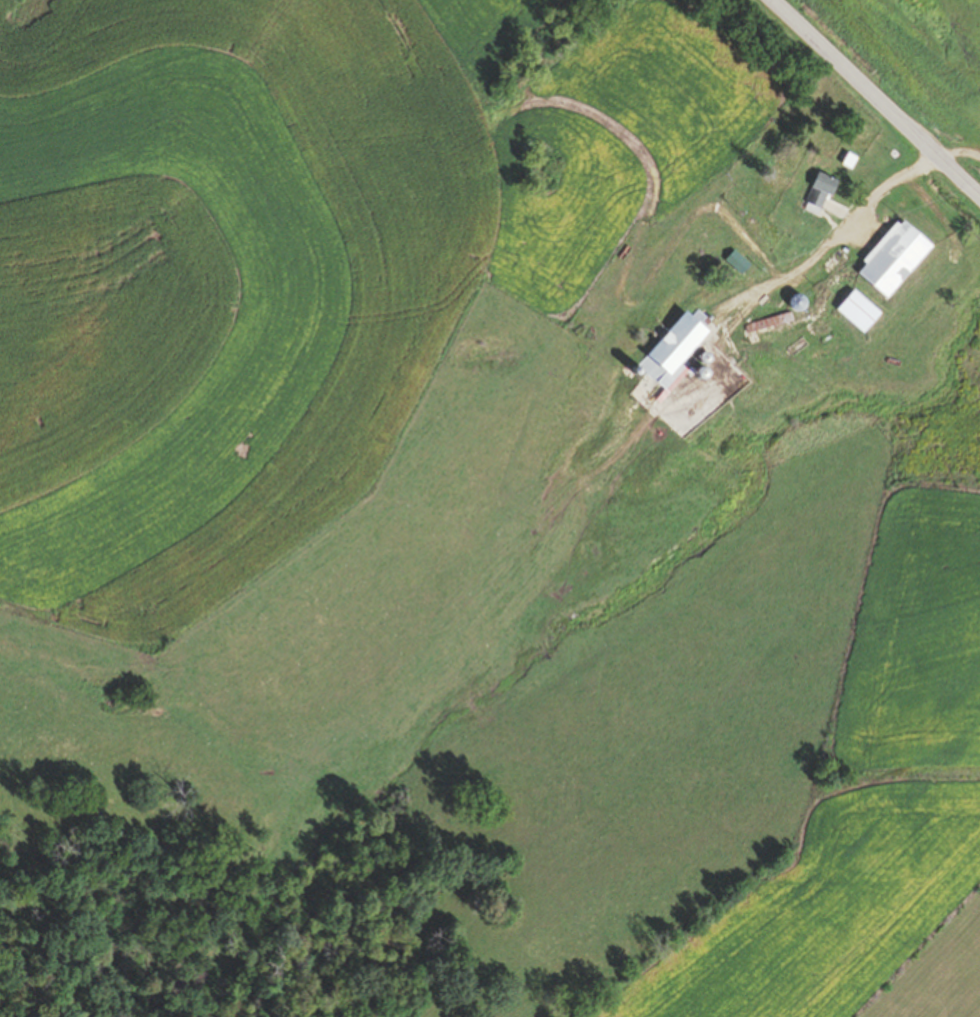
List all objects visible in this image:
road: (871, 100)
road: (956, 152)
building: (851, 161)
park: (536, 173)
building: (821, 190)
road: (820, 253)
building: (896, 258)
building: (740, 262)
building: (836, 262)
road: (647, 280)
building: (800, 302)
building: (860, 311)
building: (770, 324)
building: (678, 353)

